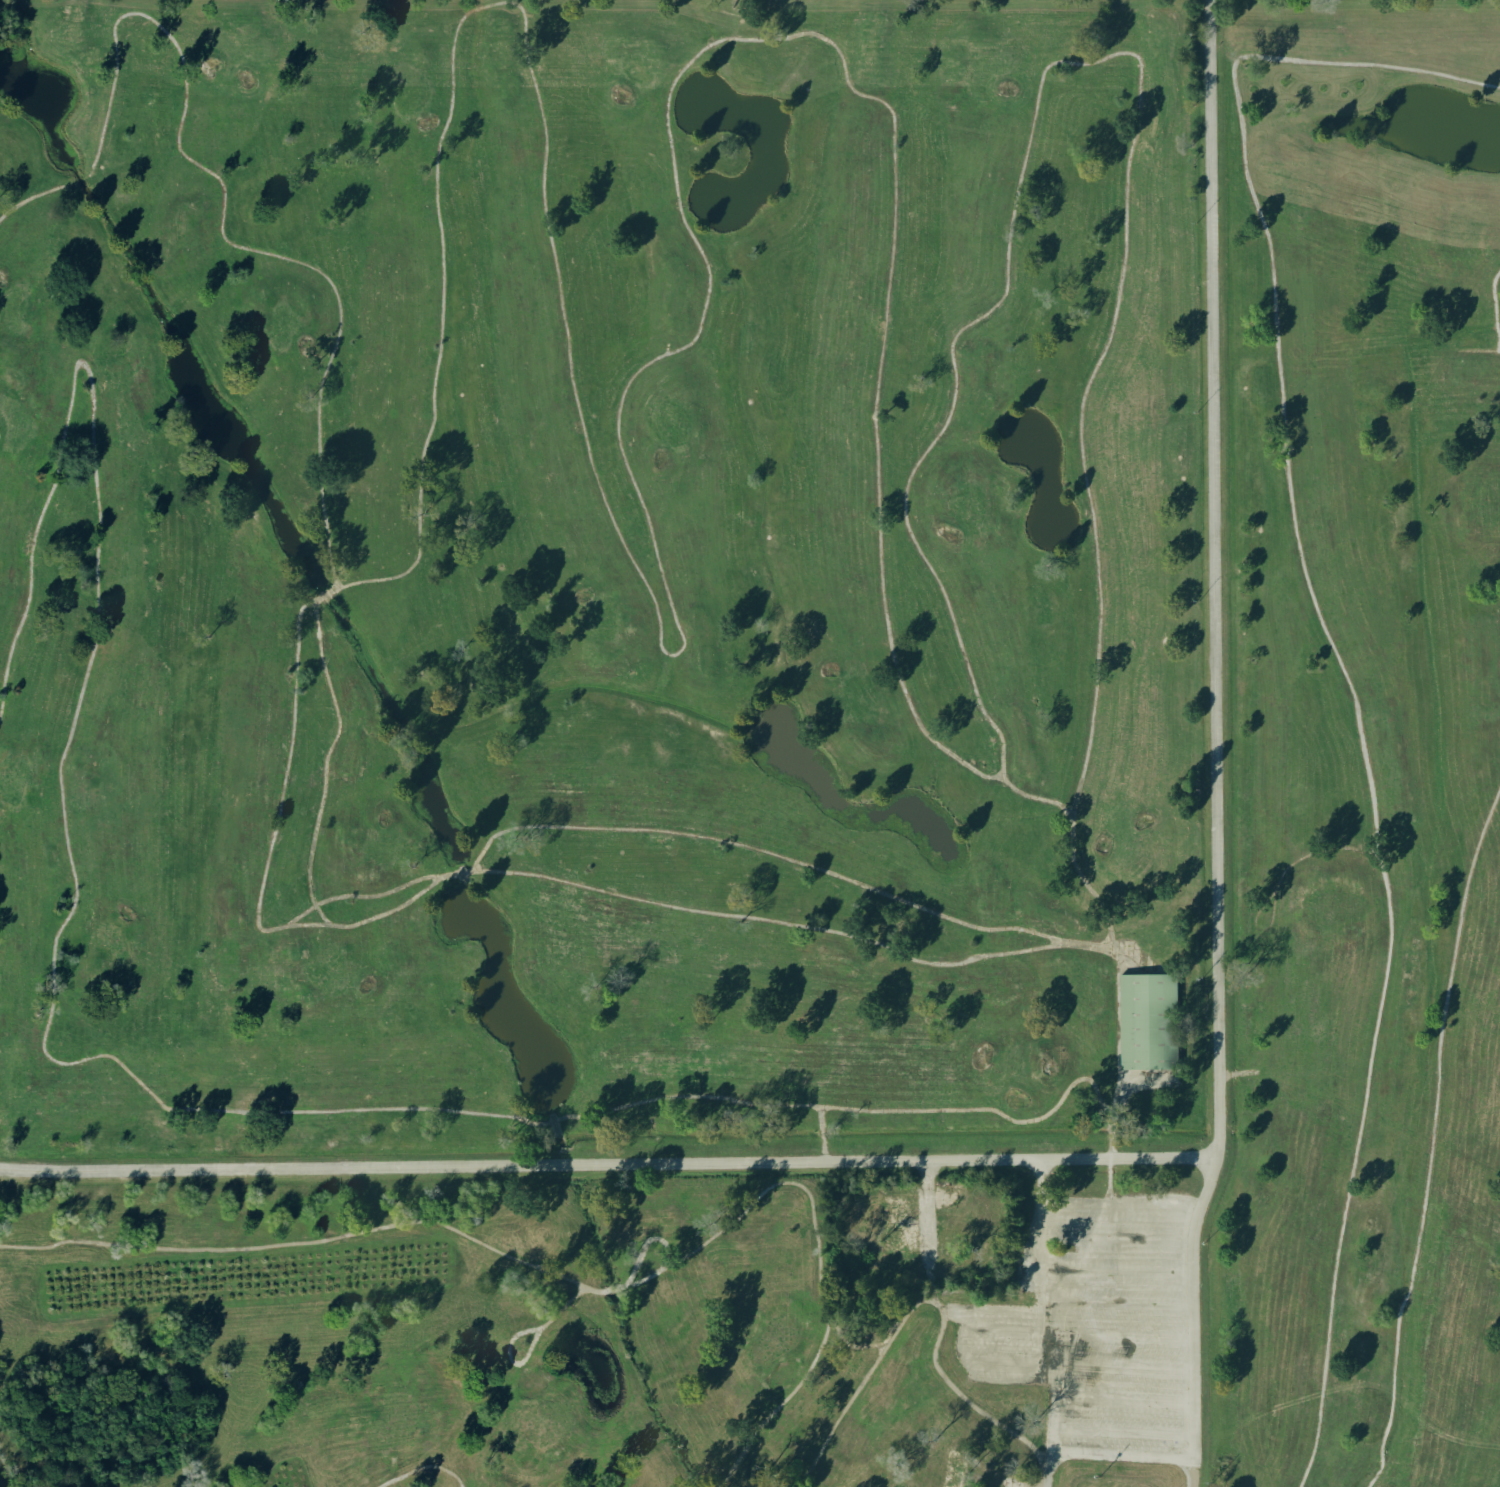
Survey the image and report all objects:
park: (242, 50)
park: (639, 70)
park: (989, 70)
park: (413, 92)
road: (1132, 132)
road: (75, 175)
park: (1295, 183)
road: (27, 197)
park: (1464, 228)
road: (224, 233)
road: (1494, 306)
park: (283, 325)
road: (1277, 329)
park: (668, 421)
park: (15, 423)
park: (1490, 501)
park: (971, 508)
road: (653, 535)
road: (326, 594)
park: (605, 616)
park: (857, 692)
park: (750, 743)
park: (750, 745)
road: (324, 765)
park: (13, 780)
road: (1060, 805)
park: (1122, 835)
park: (386, 846)
road: (763, 849)
road: (268, 859)
road: (457, 871)
road: (365, 895)
park: (1334, 906)
road: (795, 923)
park: (108, 938)
park: (331, 971)
park: (1084, 988)
road: (1381, 1002)
building: (1149, 1022)
road: (113, 1056)
park: (1005, 1069)
road: (822, 1135)
road: (1433, 1139)
road: (1187, 1158)
road: (798, 1184)
building: (999, 1208)
road: (1119, 1208)
road: (928, 1228)
building: (899, 1231)
road: (340, 1236)
building: (997, 1238)
building: (955, 1239)
road: (1117, 1239)
road: (1123, 1270)
road: (642, 1280)
road: (610, 1288)
road: (1123, 1303)
road: (953, 1312)
parking lot: (1123, 1328)
road: (963, 1333)
road: (1122, 1335)
park: (773, 1339)
road: (511, 1357)
road: (1122, 1368)
road: (958, 1392)
road: (1122, 1399)
road: (783, 1404)
road: (842, 1412)
park: (393, 1420)
park: (546, 1422)
road: (1122, 1432)
road: (1125, 1454)
building: (954, 1467)
road: (986, 1468)
road: (1048, 1469)
road: (424, 1470)
road: (1190, 1471)
road: (1023, 1478)

